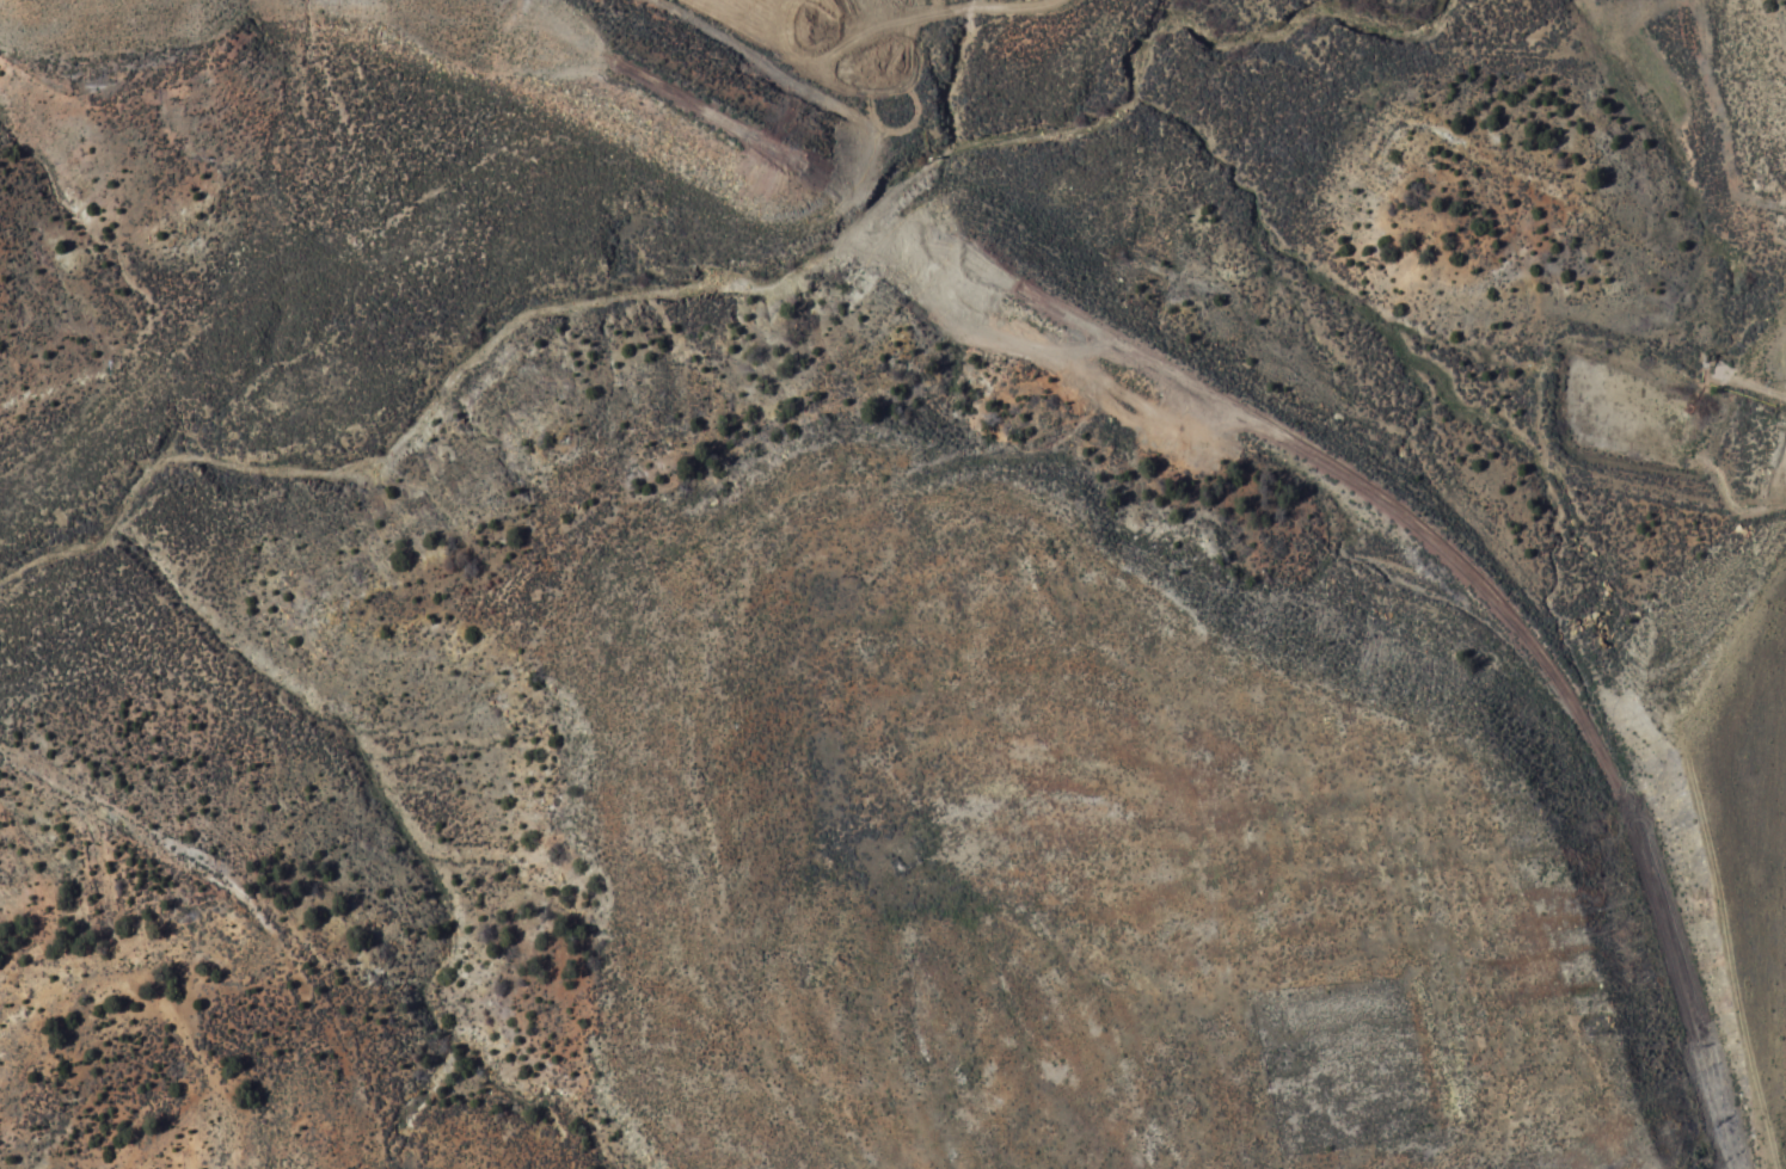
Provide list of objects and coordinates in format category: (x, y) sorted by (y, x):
railway: (102, 8)
railway: (615, 55)
railway: (890, 208)
railway: (1495, 601)

